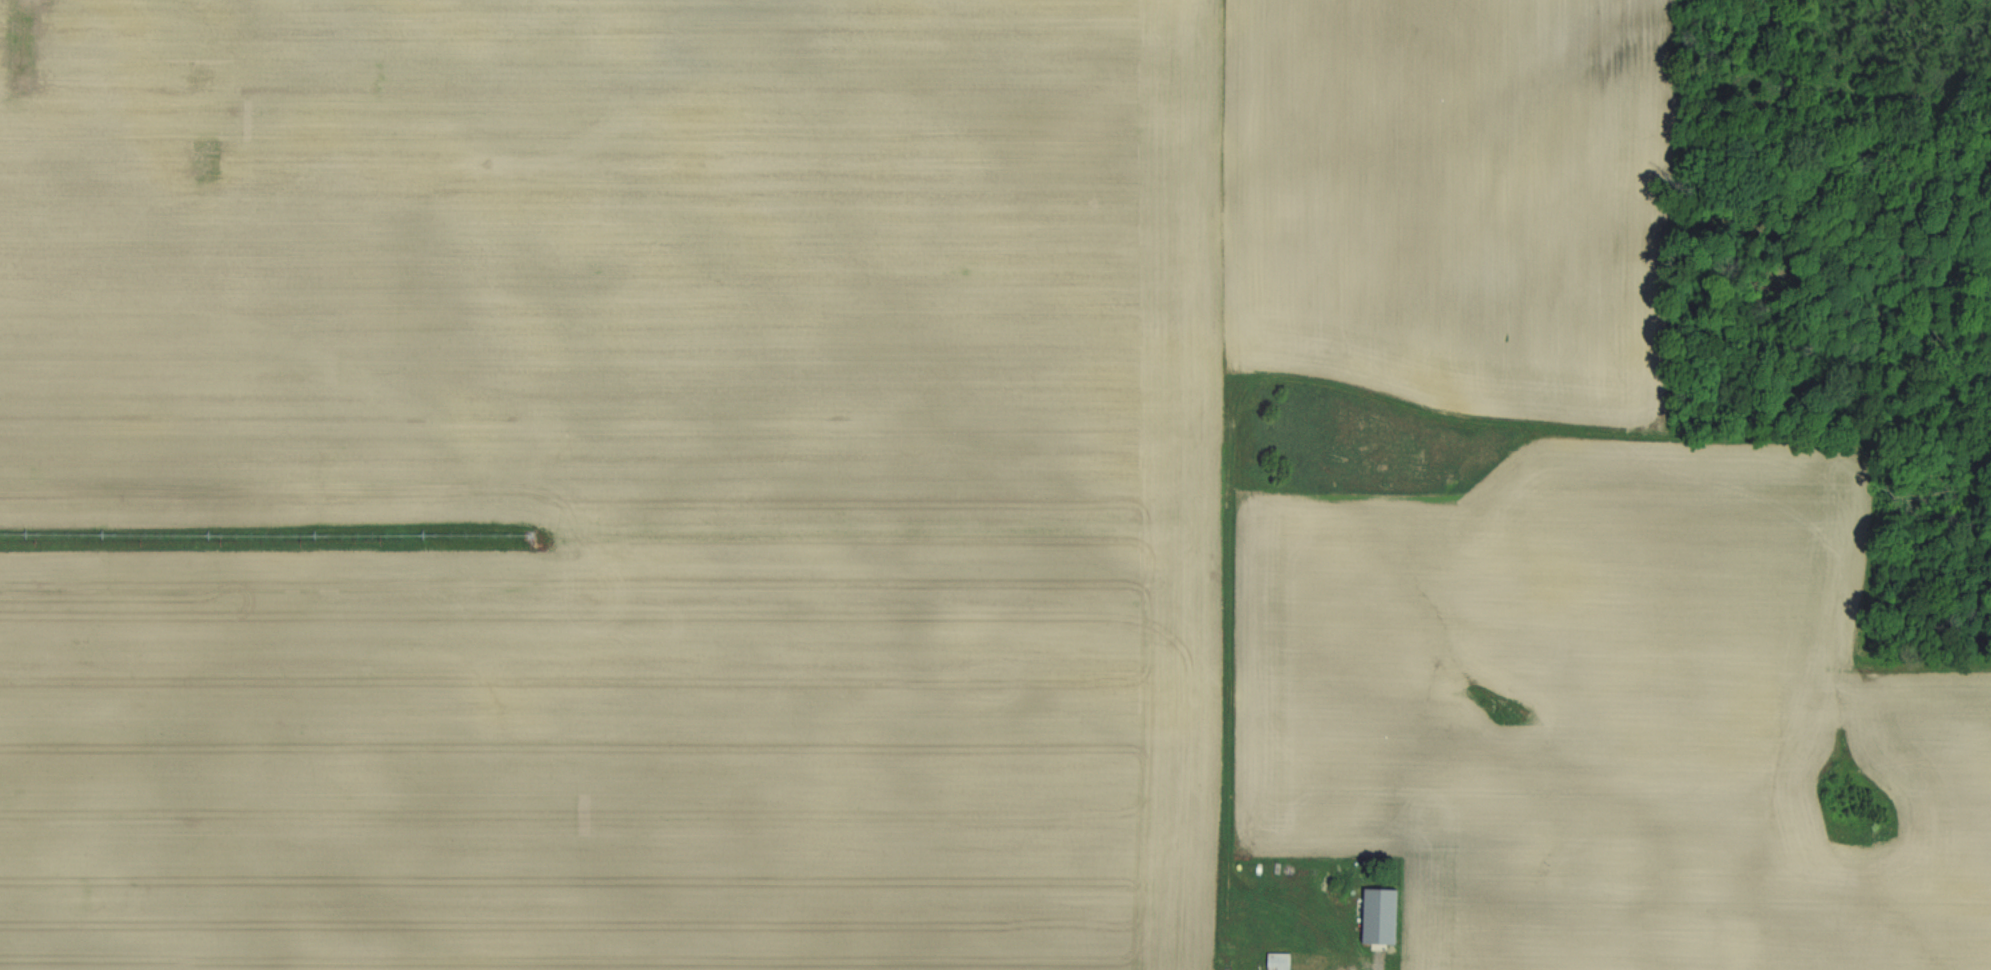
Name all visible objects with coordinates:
building: (1376, 915)
building: (1278, 960)

